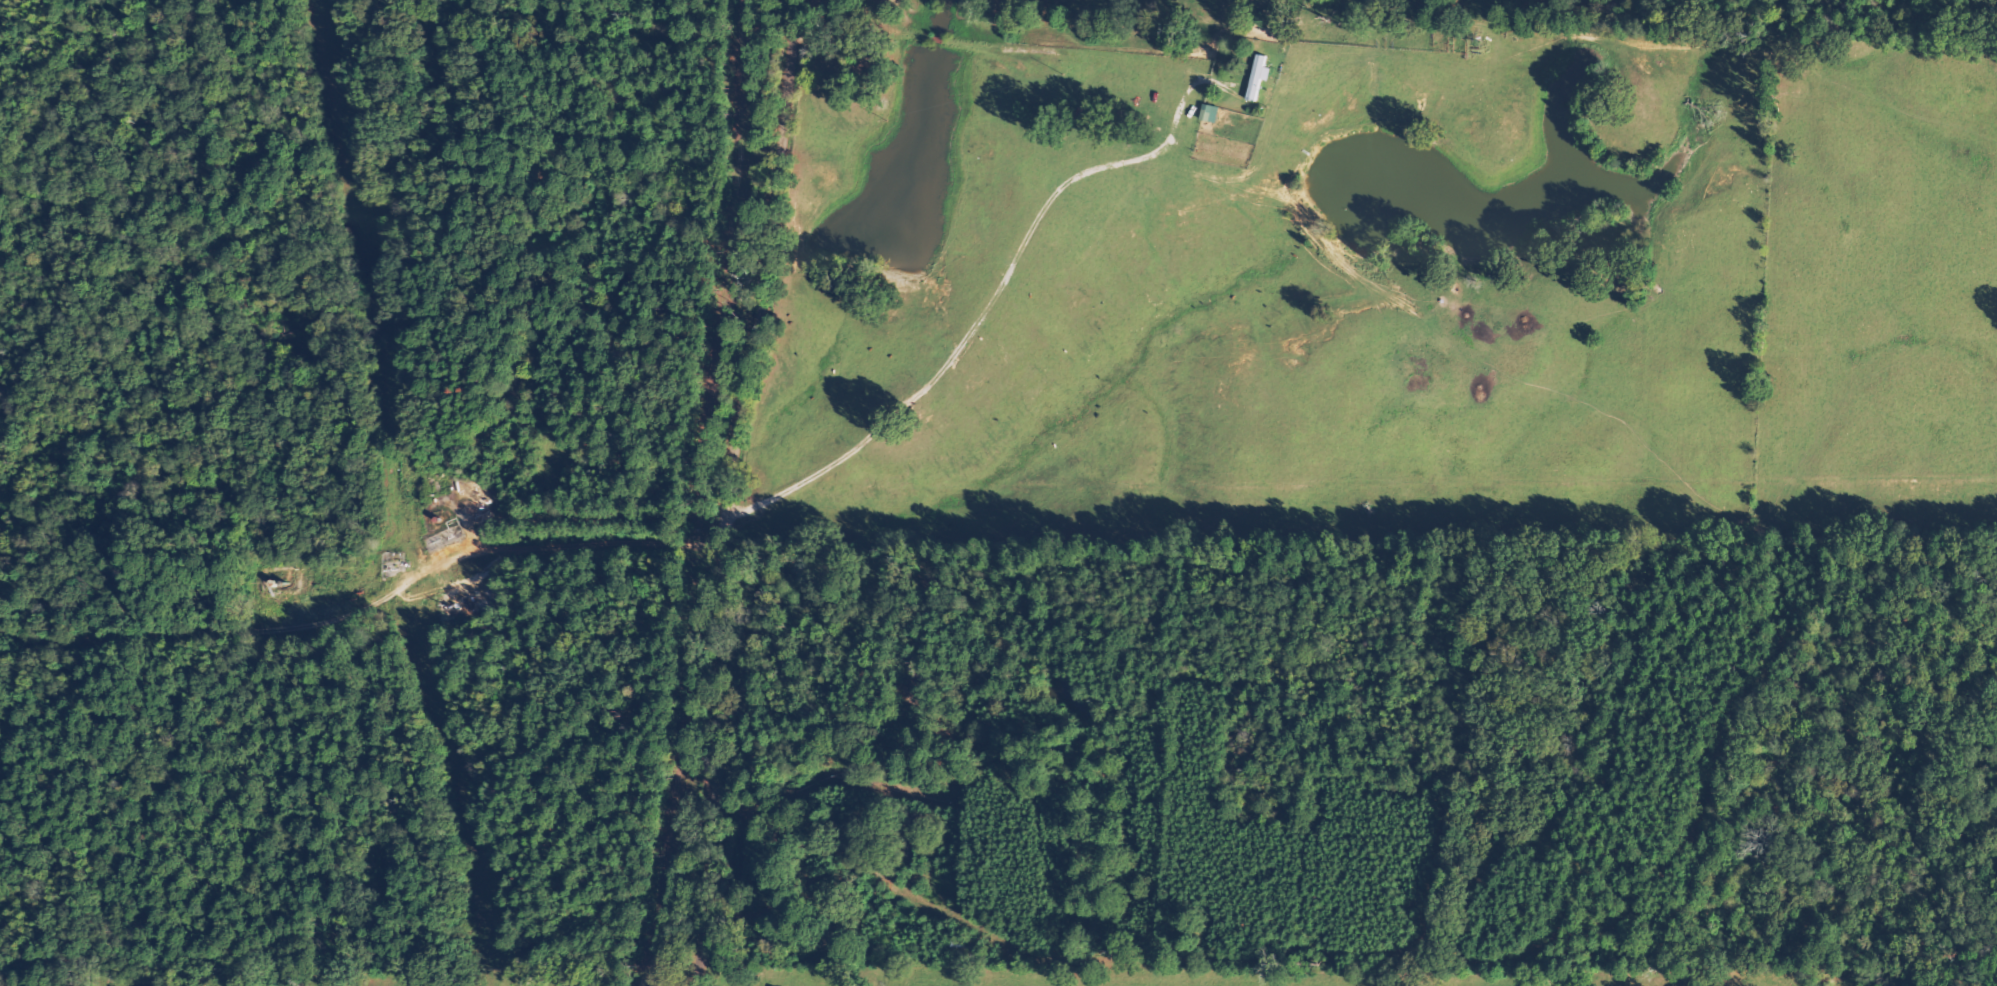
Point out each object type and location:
building: (1260, 77)
building: (1212, 113)
road: (717, 492)
road: (357, 604)

